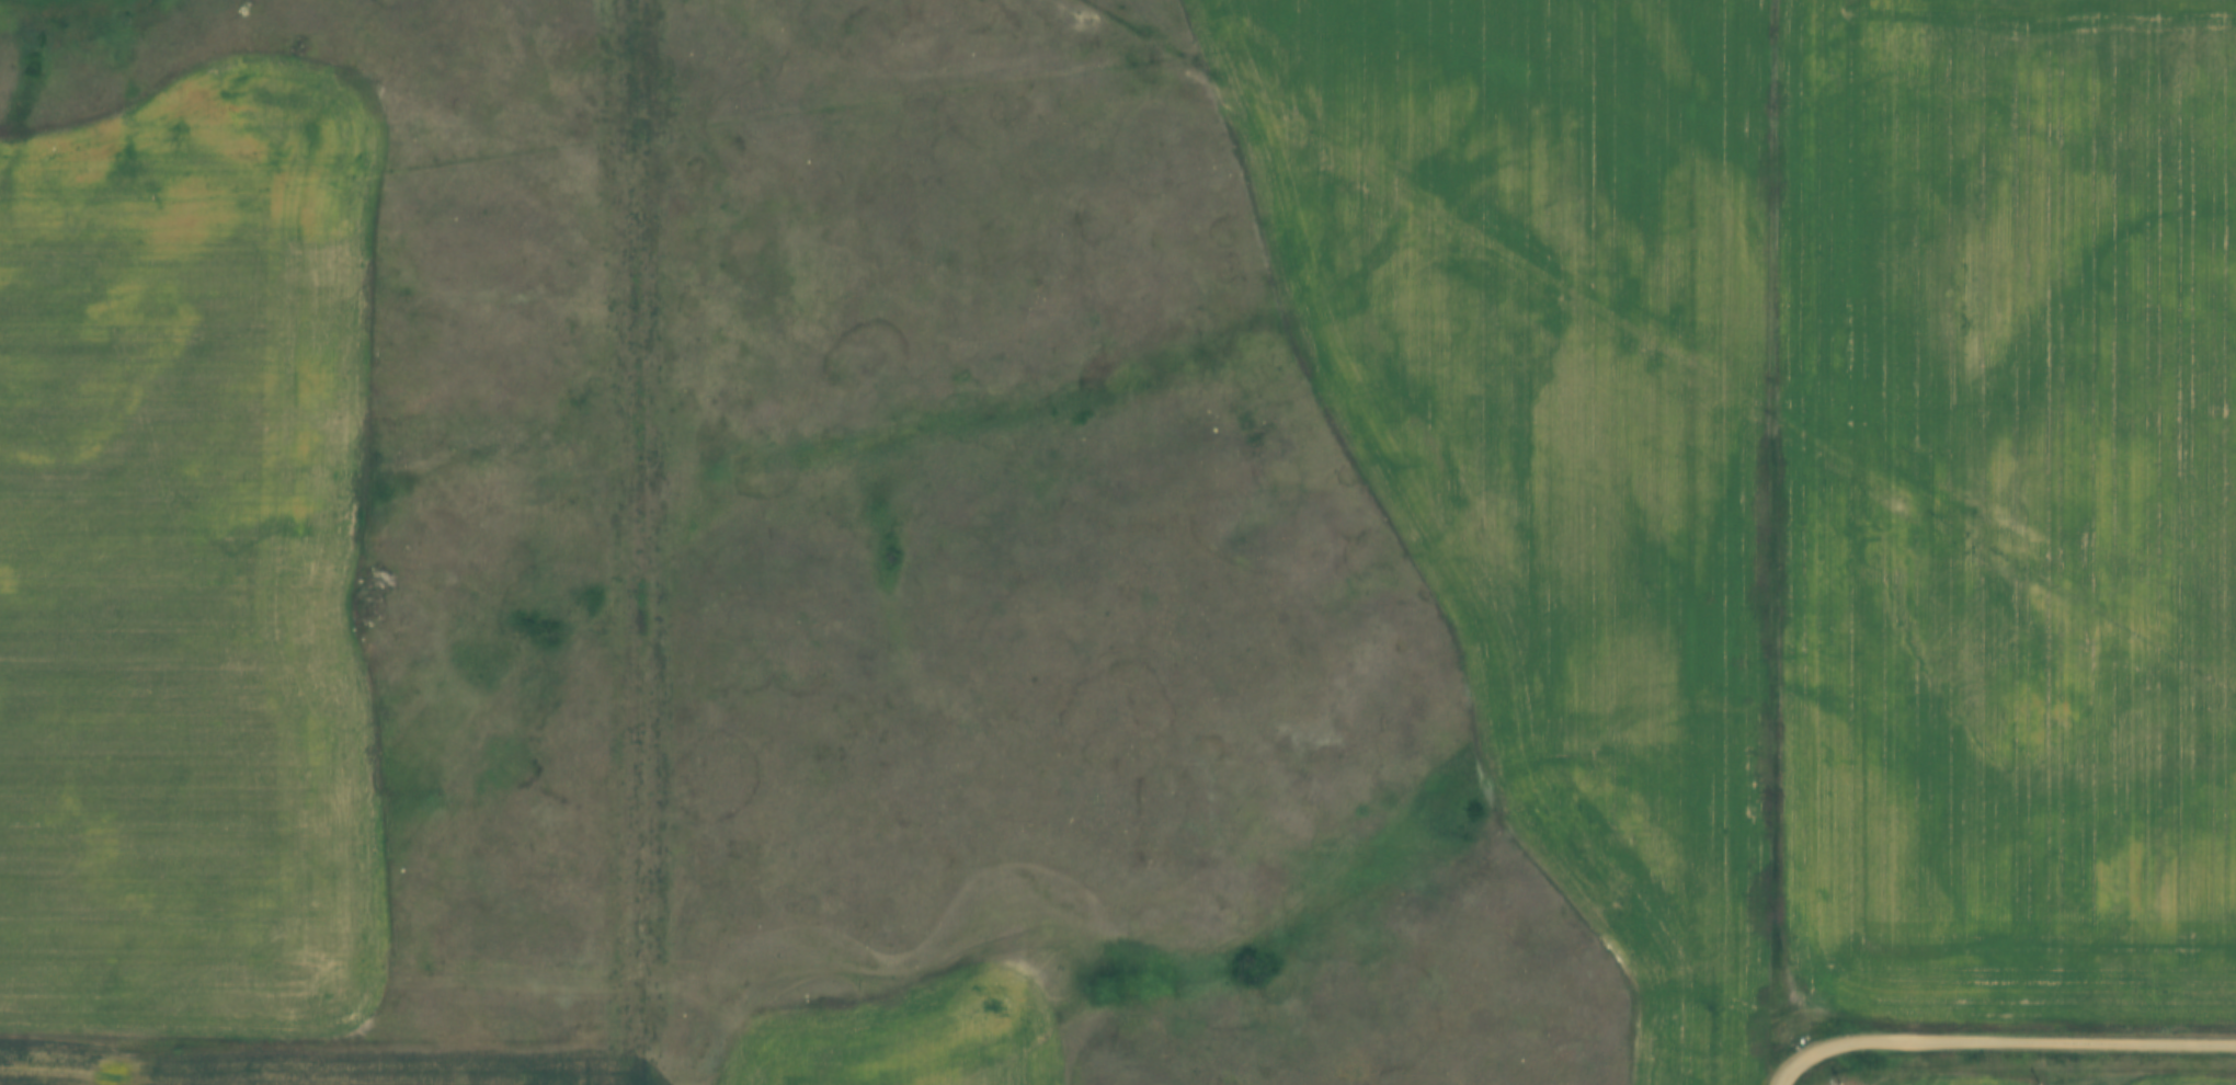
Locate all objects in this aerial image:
road: (2005, 1039)

